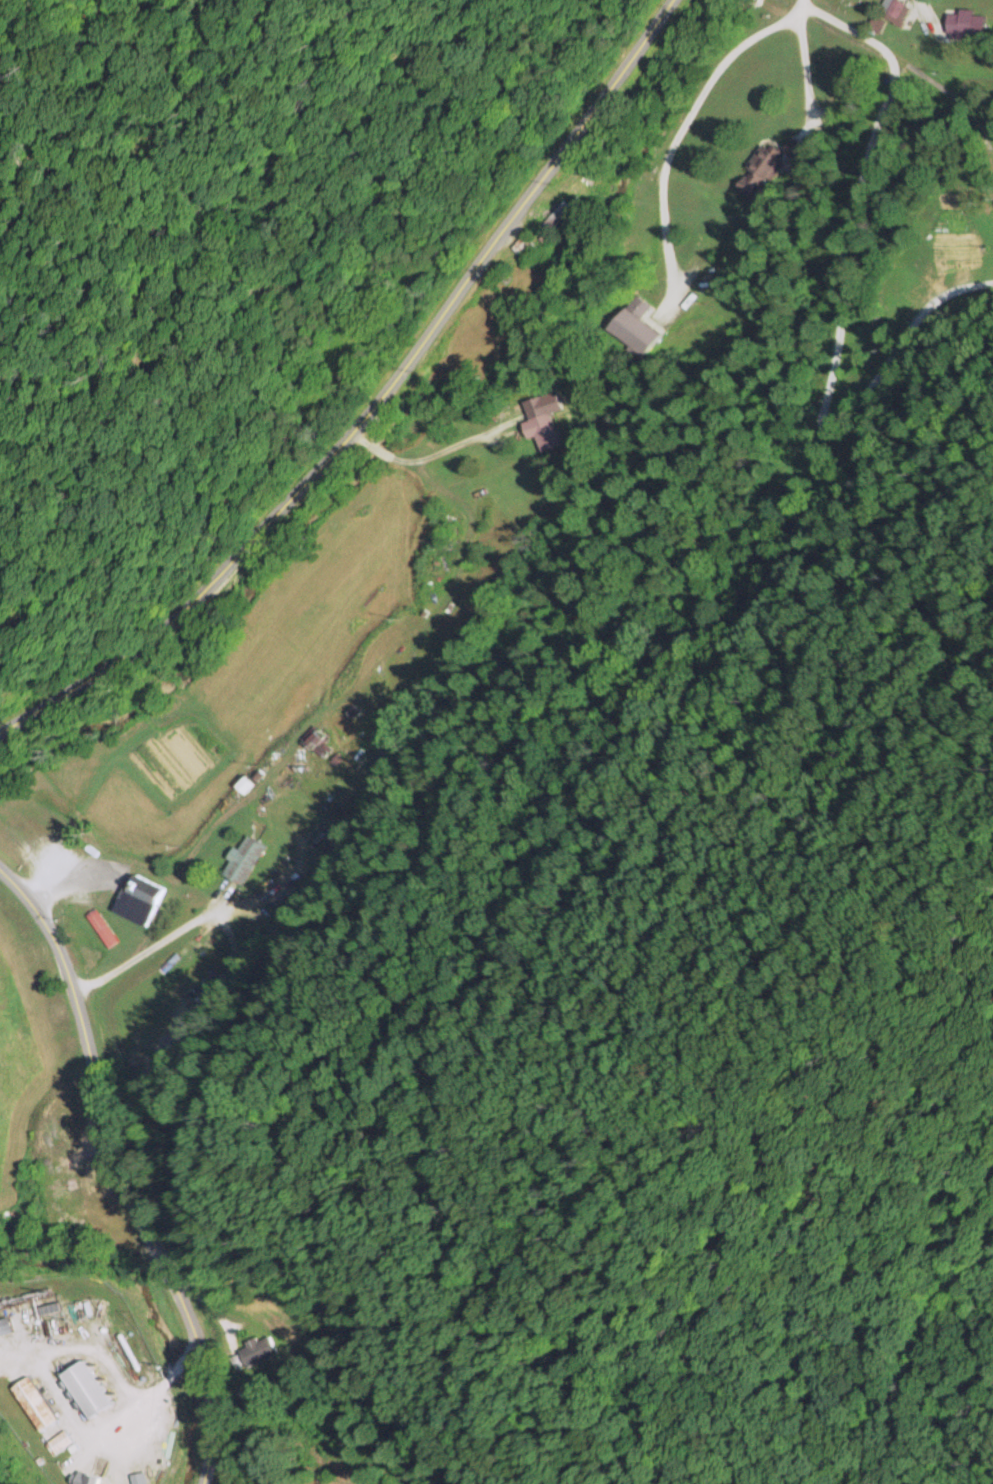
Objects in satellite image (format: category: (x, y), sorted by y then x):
building: (891, 9)
building: (964, 23)
road: (404, 92)
building: (756, 170)
building: (557, 213)
building: (520, 245)
building: (634, 323)
road: (337, 376)
building: (539, 430)
road: (480, 463)
building: (241, 858)
road: (398, 1018)
road: (135, 1179)
building: (256, 1349)
building: (82, 1387)
building: (32, 1402)
building: (84, 1478)

